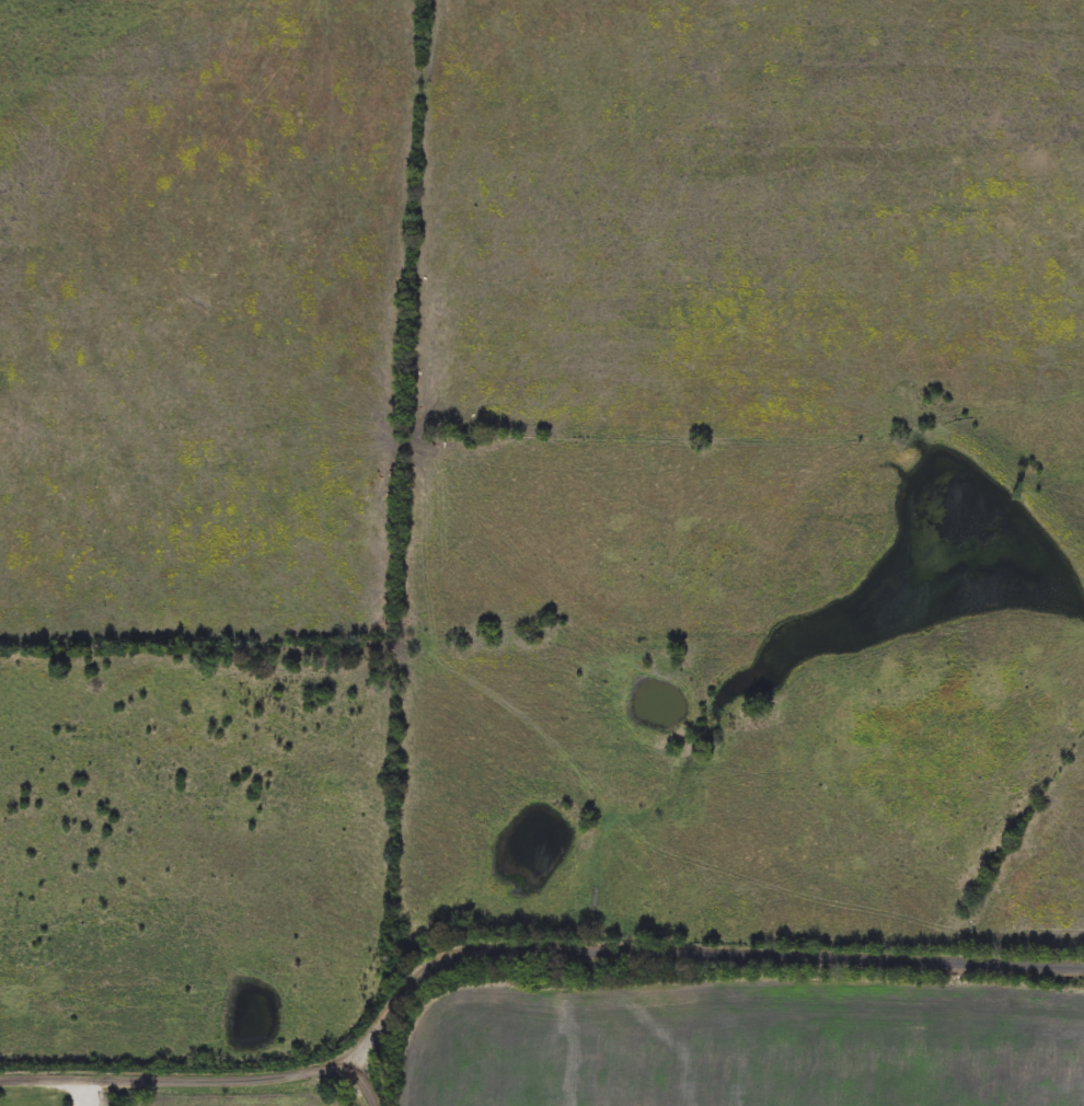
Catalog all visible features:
road: (703, 952)
road: (194, 1076)
road: (387, 1080)
road: (321, 1088)

